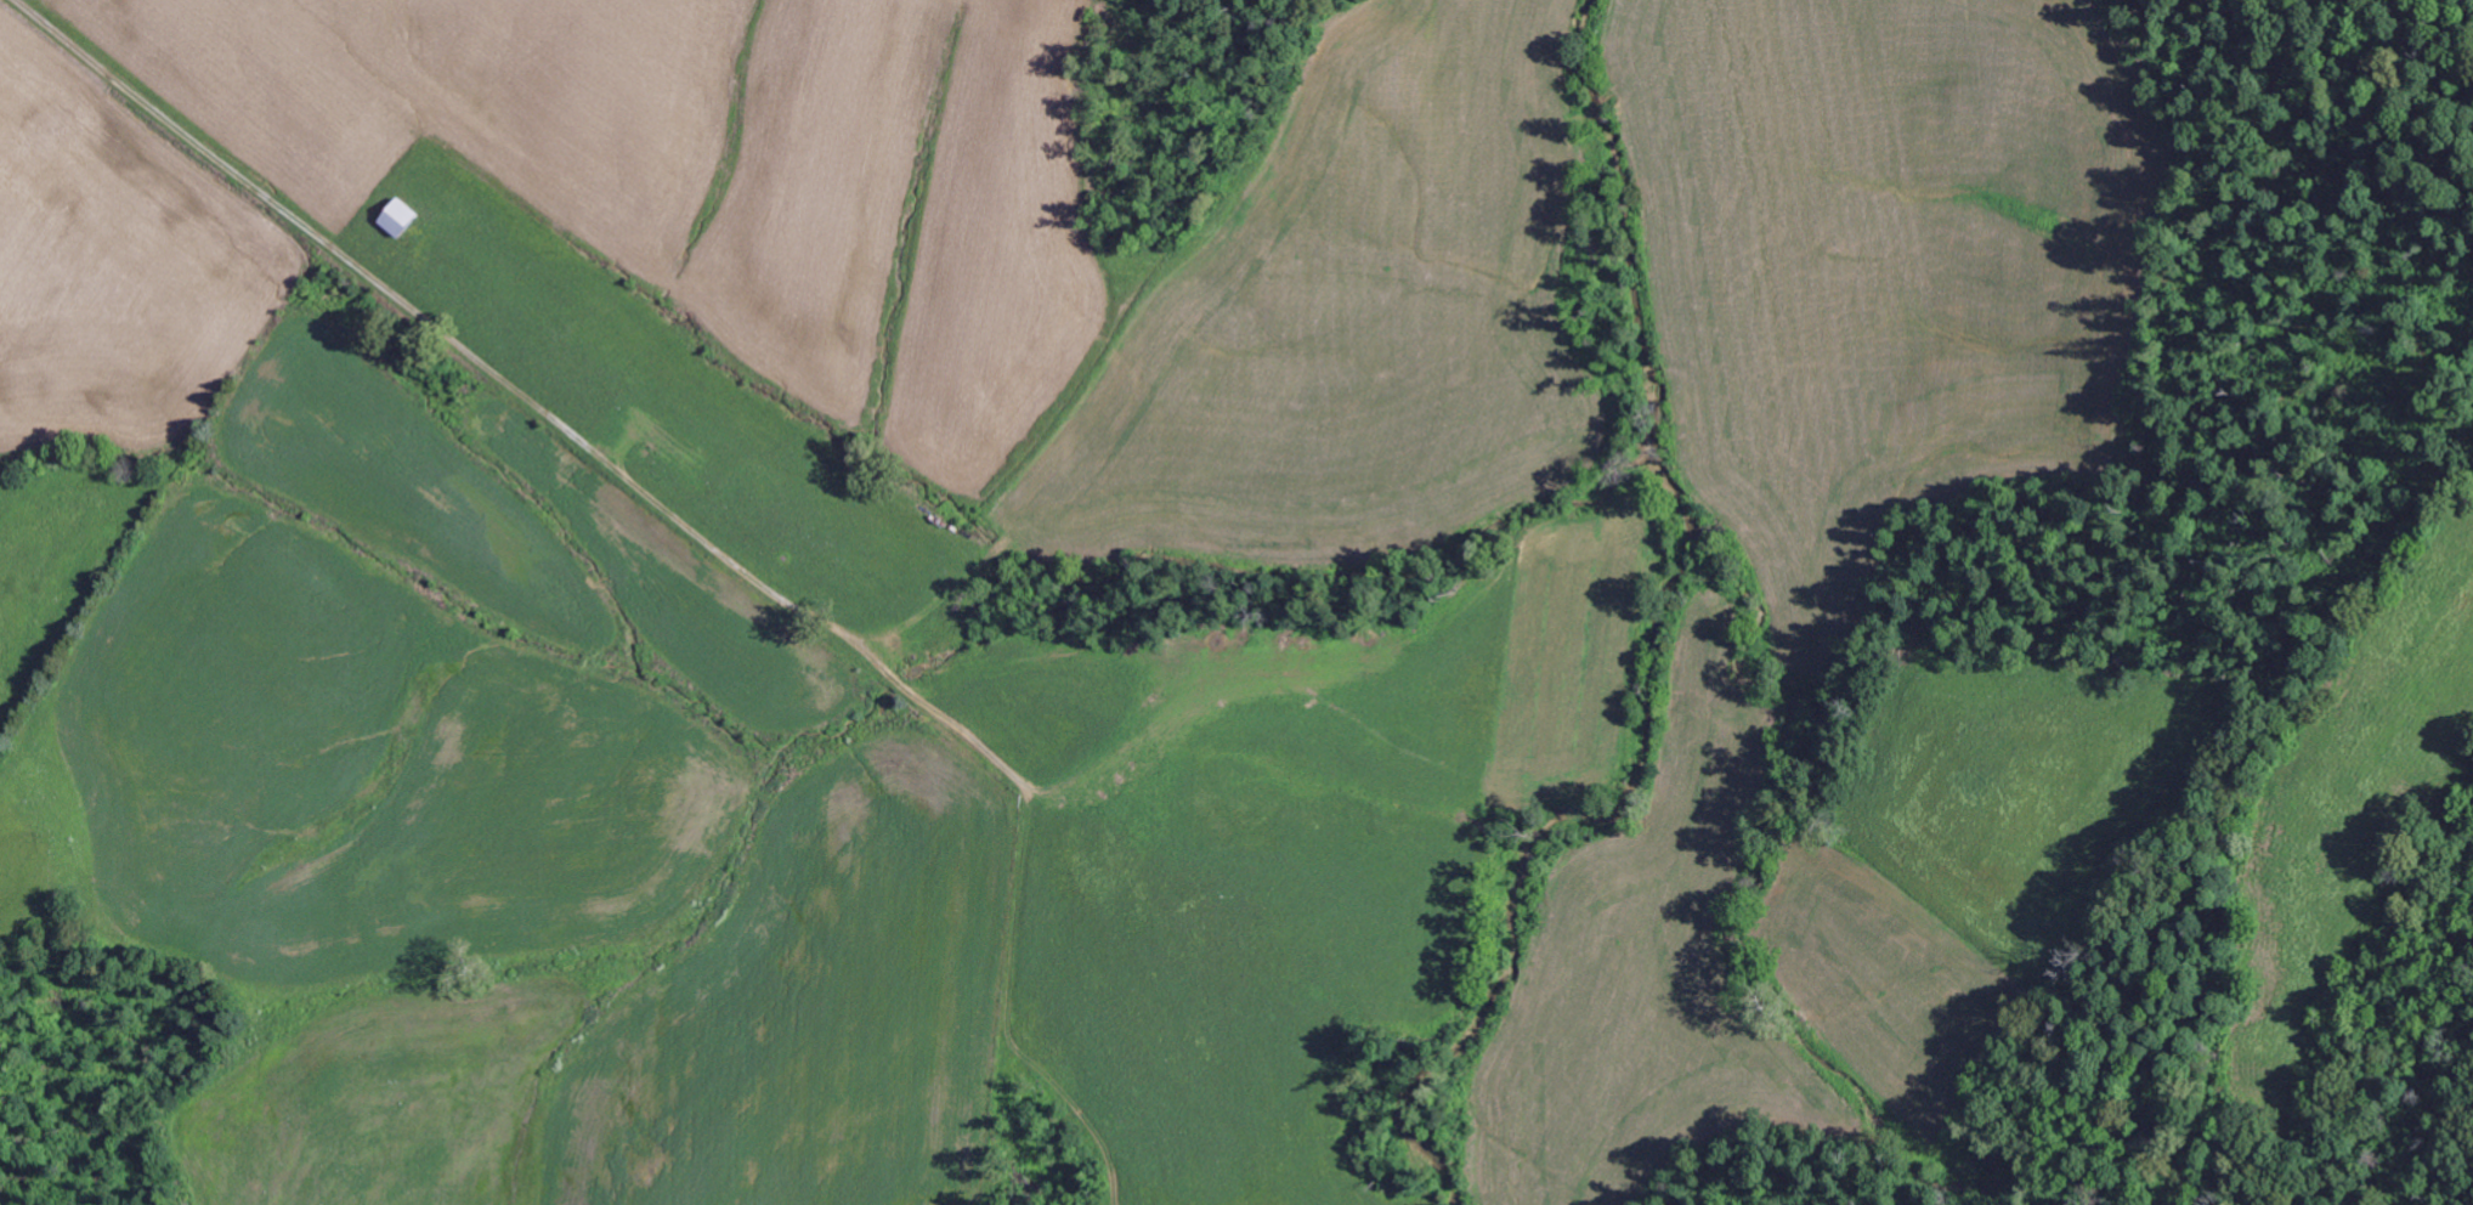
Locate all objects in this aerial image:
building: (406, 217)

